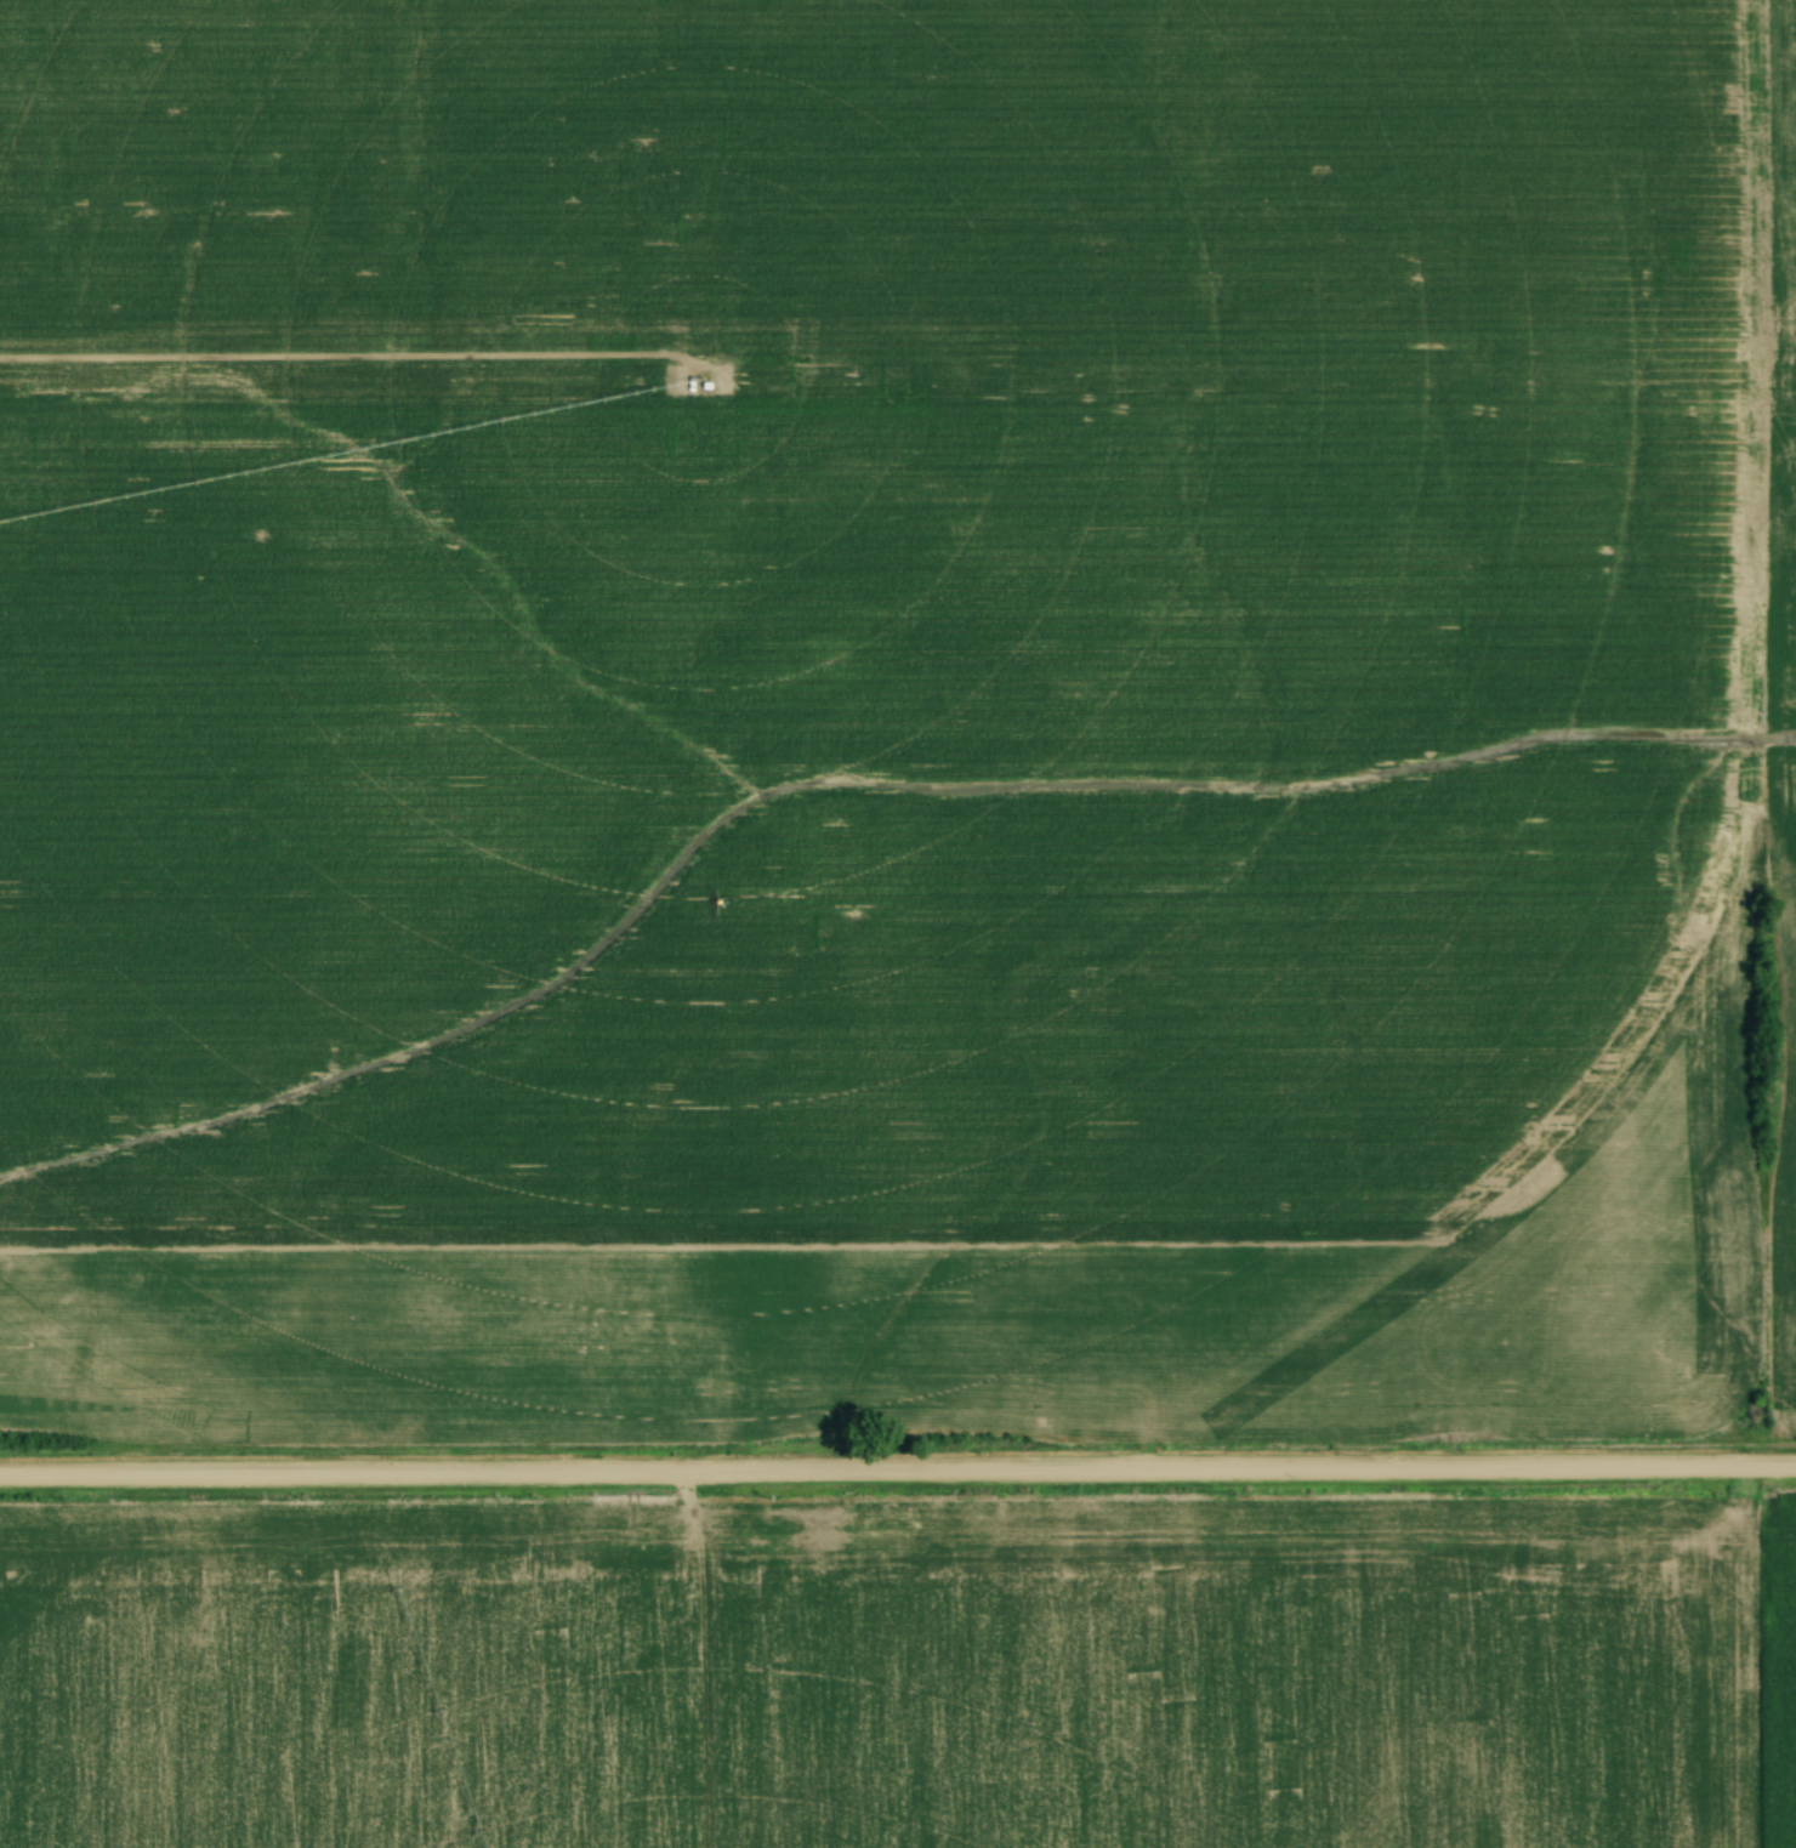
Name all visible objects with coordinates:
road: (898, 1471)

